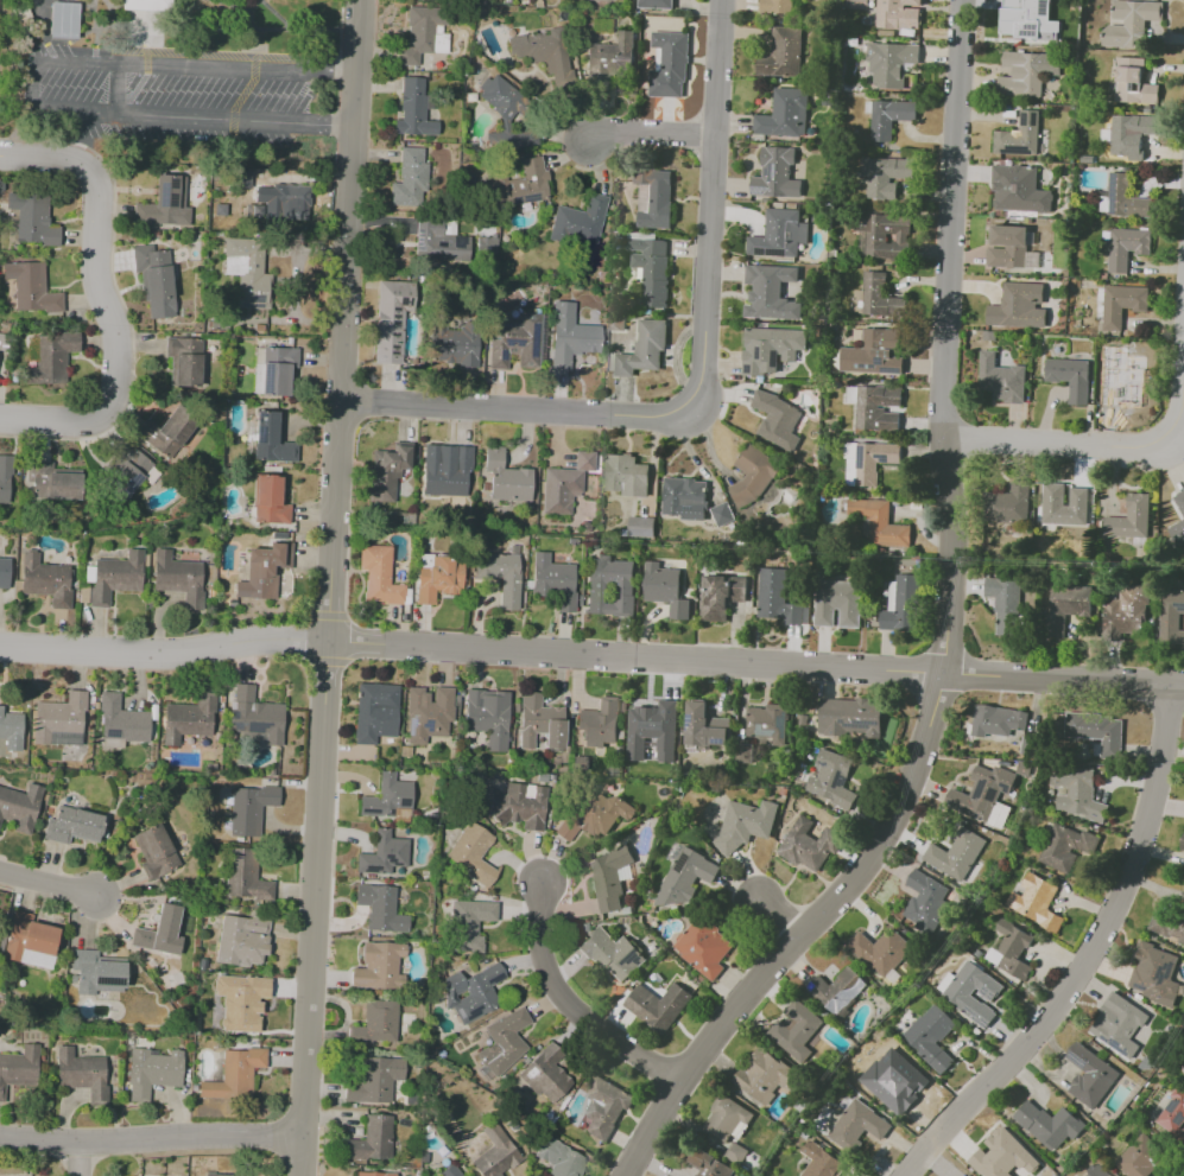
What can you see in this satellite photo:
building: (912, 1)
rooftop solar panel: (137, 4)
building: (656, 4)
building: (859, 4)
building: (156, 5)
building: (778, 6)
building: (897, 14)
building: (62, 20)
rooftop solar panel: (63, 20)
building: (1030, 20)
rooftop solar panel: (138, 23)
building: (1132, 23)
building: (417, 36)
rooftop solar panel: (140, 38)
building: (534, 50)
building: (781, 53)
building: (609, 61)
building: (889, 63)
building: (670, 64)
building: (1026, 72)
building: (1133, 81)
road: (33, 84)
road: (116, 87)
road: (336, 88)
parking lot: (181, 89)
building: (413, 108)
building: (785, 114)
building: (507, 115)
building: (889, 117)
building: (1131, 133)
building: (1019, 135)
road: (658, 139)
road: (87, 150)
rooftop solar panel: (773, 170)
building: (777, 174)
building: (887, 174)
building: (407, 178)
rooftop solar panel: (175, 183)
building: (519, 185)
rooftop solar panel: (762, 189)
building: (1018, 189)
rooftop solar panel: (1115, 191)
rooftop solar panel: (163, 193)
rooftop solar panel: (172, 198)
building: (654, 198)
building: (1123, 198)
building: (291, 199)
building: (159, 203)
building: (220, 210)
building: (31, 221)
building: (576, 227)
building: (779, 234)
building: (889, 236)
building: (437, 242)
building: (486, 246)
building: (1127, 246)
building: (1007, 247)
rooftop solar panel: (778, 250)
rooftop solar panel: (760, 252)
building: (248, 263)
building: (651, 268)
building: (152, 273)
road: (295, 284)
building: (766, 284)
building: (30, 290)
building: (880, 297)
road: (101, 298)
rooftop solar panel: (255, 299)
building: (1018, 305)
building: (1119, 305)
building: (392, 323)
building: (569, 337)
rooftop solar panel: (534, 339)
building: (514, 342)
building: (455, 344)
building: (644, 348)
building: (771, 348)
building: (878, 352)
rooftop solar panel: (504, 355)
building: (51, 358)
rooftop solar panel: (881, 358)
building: (184, 361)
rooftop solar panel: (863, 364)
rooftop solar panel: (874, 364)
rooftop solar panel: (887, 368)
building: (277, 370)
rooftop solar panel: (895, 370)
building: (1003, 379)
building: (1071, 379)
building: (1119, 380)
road: (710, 382)
building: (878, 407)
building: (778, 419)
building: (166, 432)
building: (271, 438)
road: (1082, 444)
building: (584, 460)
building: (874, 462)
building: (127, 468)
building: (445, 471)
building: (386, 472)
building: (755, 472)
rooftop solar panel: (124, 475)
building: (626, 475)
building: (506, 478)
building: (5, 479)
rooftop solar panel: (128, 482)
building: (65, 484)
building: (559, 490)
building: (685, 497)
building: (270, 500)
building: (1180, 501)
building: (1011, 503)
building: (1068, 504)
building: (722, 513)
building: (1132, 520)
building: (881, 523)
building: (641, 527)
rooftop solar panel: (639, 532)
building: (1177, 532)
building: (262, 571)
building: (5, 573)
building: (115, 577)
building: (379, 577)
building: (178, 578)
building: (439, 578)
building: (502, 578)
building: (45, 580)
building: (555, 581)
building: (612, 585)
road: (337, 587)
building: (665, 589)
building: (722, 596)
building: (775, 598)
building: (837, 603)
building: (901, 603)
building: (1005, 604)
building: (1065, 606)
building: (1127, 611)
building: (1172, 616)
road: (952, 637)
road: (591, 663)
building: (429, 713)
building: (255, 714)
building: (378, 716)
building: (855, 717)
building: (122, 720)
rooftop solar panel: (683, 720)
building: (768, 720)
building: (993, 722)
building: (489, 723)
building: (540, 724)
building: (189, 725)
rooftop solar panel: (409, 725)
building: (67, 726)
rooftop solar panel: (425, 726)
building: (599, 726)
building: (704, 726)
rooftop solar panel: (857, 726)
building: (1103, 729)
building: (653, 730)
building: (11, 732)
rooftop solar panel: (110, 735)
rooftop solar panel: (65, 738)
rooftop solar panel: (717, 740)
rooftop solar panel: (824, 764)
building: (1024, 768)
building: (830, 774)
rooftop solar panel: (841, 777)
building: (983, 793)
building: (1078, 794)
building: (386, 799)
rooftop solar panel: (401, 803)
building: (514, 805)
building: (19, 807)
building: (251, 809)
rooftop solar panel: (366, 811)
rooftop solar panel: (386, 811)
building: (594, 816)
building: (746, 825)
building: (74, 826)
building: (1182, 843)
building: (809, 845)
building: (1182, 850)
building: (1062, 851)
building: (154, 852)
building: (955, 852)
building: (473, 856)
building: (385, 857)
rooftop solar panel: (676, 863)
building: (685, 875)
building: (245, 876)
building: (612, 878)
road: (50, 885)
building: (1037, 901)
building: (384, 905)
building: (924, 914)
road: (784, 920)
building: (1169, 924)
building: (471, 927)
building: (159, 930)
building: (1013, 936)
building: (245, 942)
building: (30, 943)
building: (705, 947)
building: (881, 951)
building: (613, 954)
road: (1094, 956)
building: (380, 966)
building: (1155, 973)
building: (96, 974)
rooftop solar panel: (495, 978)
building: (1183, 989)
building: (838, 991)
building: (475, 993)
rooftop solar panel: (984, 993)
rooftop solar panel: (990, 996)
building: (962, 998)
building: (241, 1002)
building: (659, 1006)
rooftop solar panel: (471, 1013)
road: (577, 1015)
building: (380, 1022)
rooftop solar panel: (976, 1022)
building: (1120, 1025)
building: (796, 1026)
building: (932, 1037)
rooftop solar panel: (1100, 1037)
building: (501, 1044)
rooftop solar panel: (1113, 1045)
rooftop solar panel: (1075, 1059)
building: (18, 1068)
building: (80, 1070)
building: (153, 1072)
building: (234, 1073)
building: (1089, 1075)
building: (546, 1076)
building: (765, 1079)
building: (373, 1081)
building: (897, 1083)
rooftop solar panel: (1172, 1105)
building: (1174, 1106)
building: (603, 1108)
rooftop solar panel: (1180, 1118)
building: (730, 1125)
building: (1051, 1125)
building: (857, 1126)
building: (372, 1142)
road: (156, 1145)
building: (495, 1153)
building: (1005, 1157)
building: (1141, 1157)
building: (558, 1158)
building: (823, 1162)
road: (88, 1163)
building: (709, 1165)
building: (450, 1170)
building: (1098, 1171)
building: (366, 1174)
building: (219, 1175)

